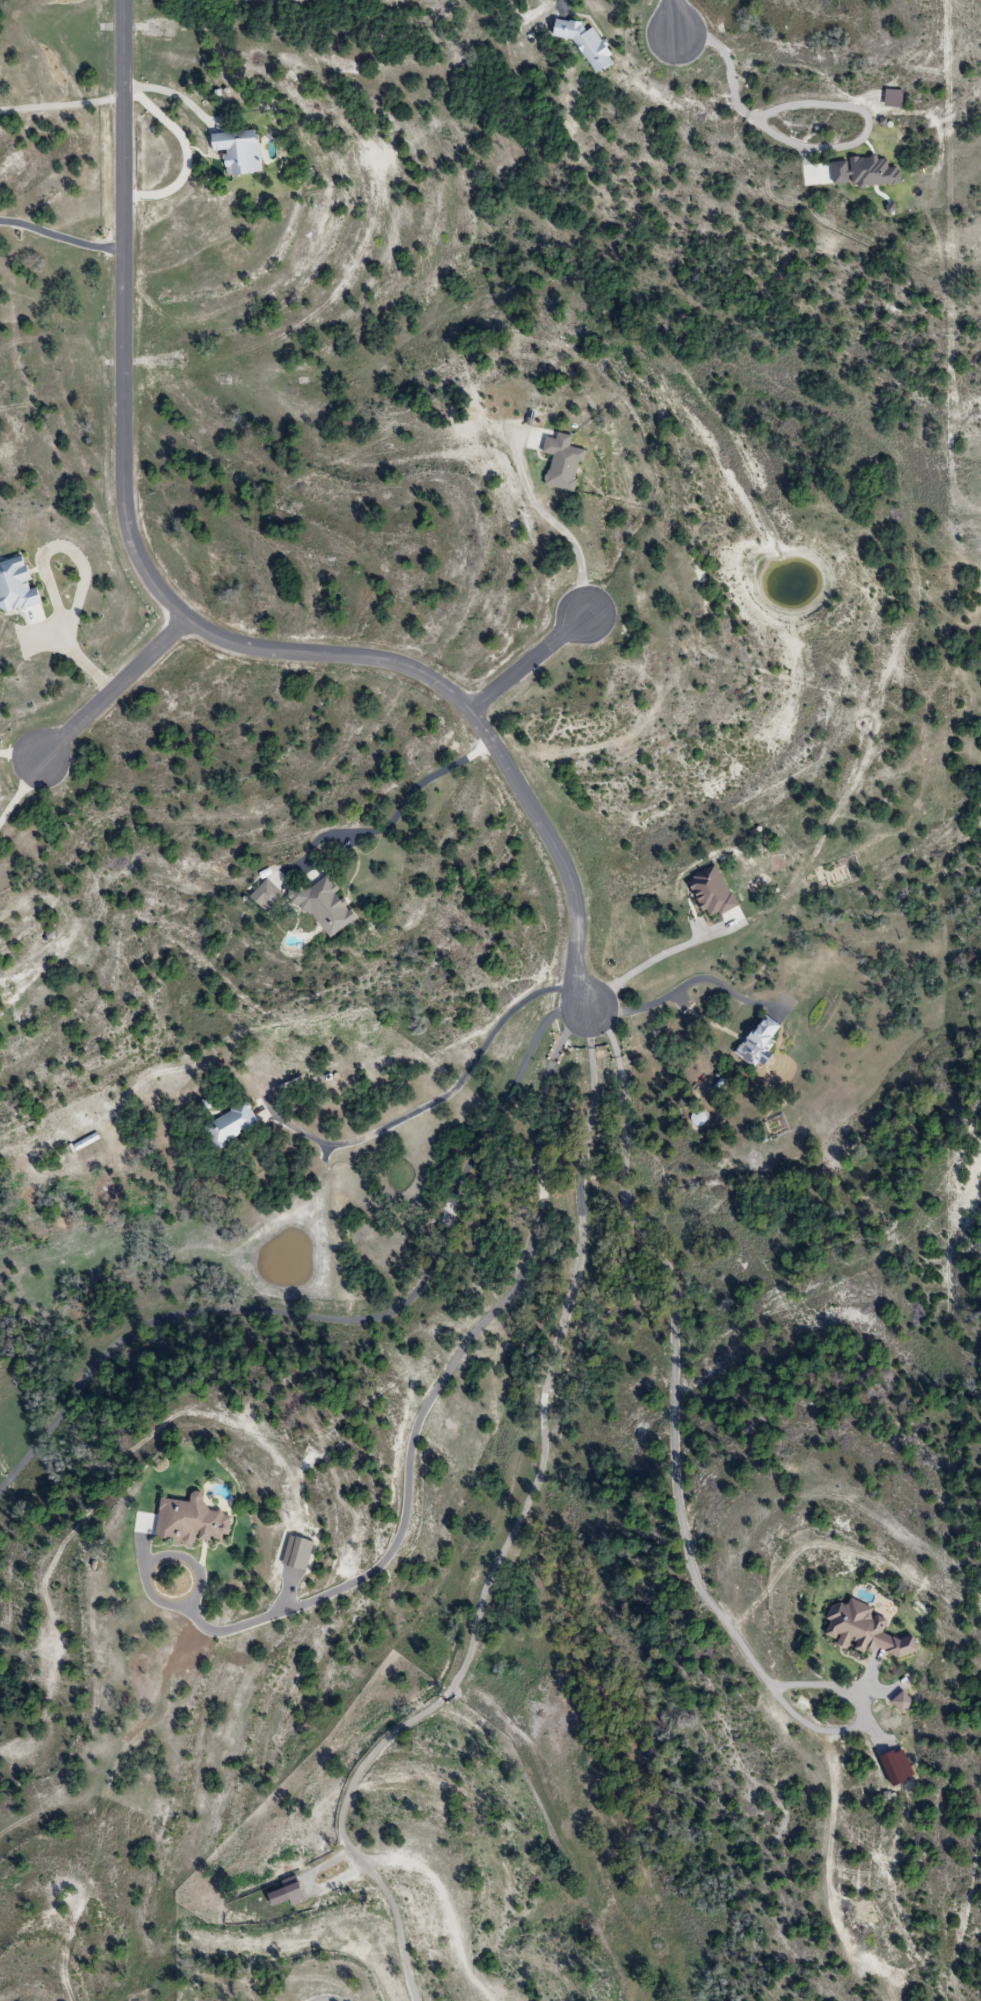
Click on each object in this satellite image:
road: (567, 3)
road: (675, 18)
building: (590, 43)
road: (169, 94)
road: (822, 98)
road: (61, 104)
building: (245, 151)
road: (187, 155)
road: (61, 229)
building: (569, 462)
road: (564, 527)
road: (50, 565)
building: (20, 586)
road: (186, 620)
road: (528, 662)
road: (114, 687)
road: (21, 789)
road: (402, 805)
building: (270, 894)
building: (329, 905)
road: (639, 964)
road: (680, 983)
building: (1, 1009)
building: (764, 1042)
road: (442, 1094)
road: (348, 1319)
road: (434, 1390)
road: (681, 1463)
building: (194, 1521)
road: (515, 1538)
building: (871, 1631)
building: (299, 1888)
road: (330, 1997)

